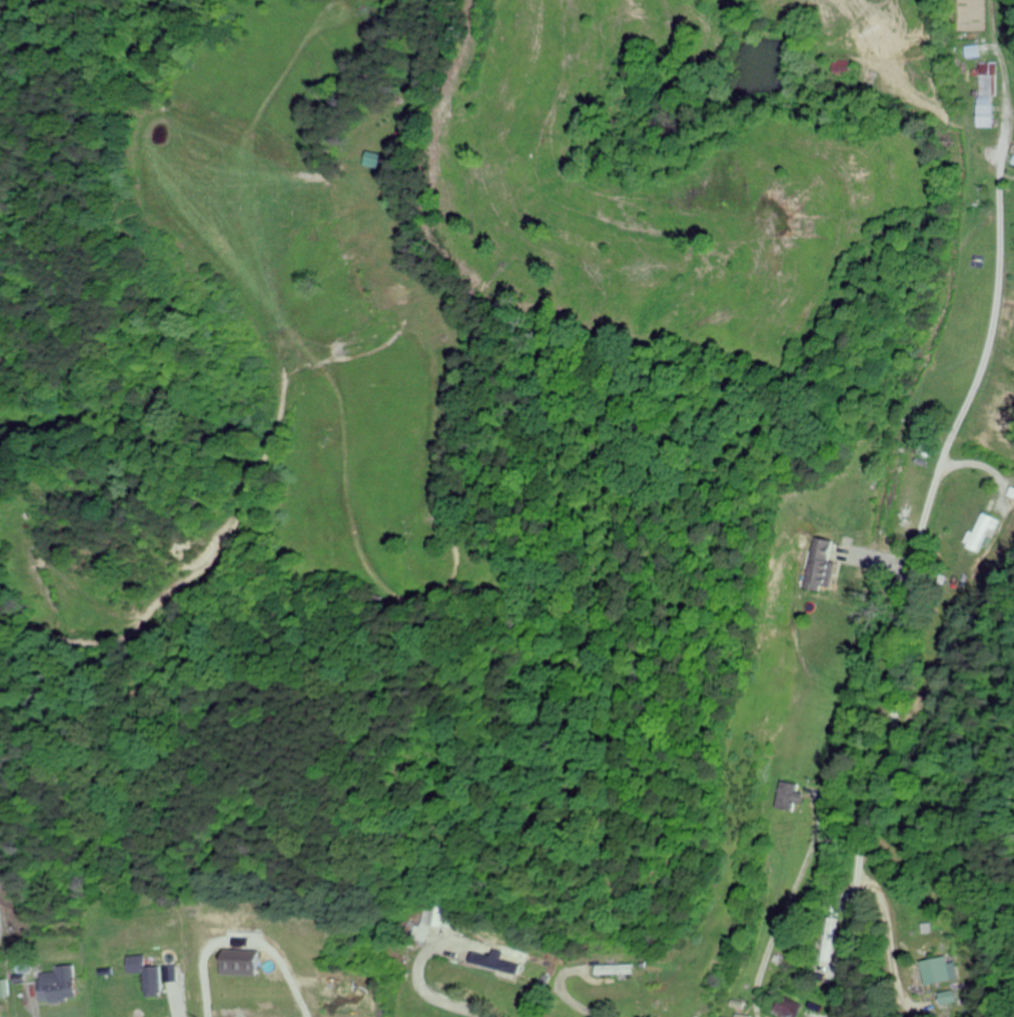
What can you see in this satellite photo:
building: (986, 95)
building: (371, 161)
building: (32, 513)
building: (984, 533)
building: (822, 565)
road: (902, 590)
building: (789, 798)
building: (436, 918)
building: (832, 942)
building: (497, 965)
building: (615, 971)
building: (940, 972)
building: (152, 979)
building: (57, 985)
building: (787, 1008)
building: (739, 1015)

